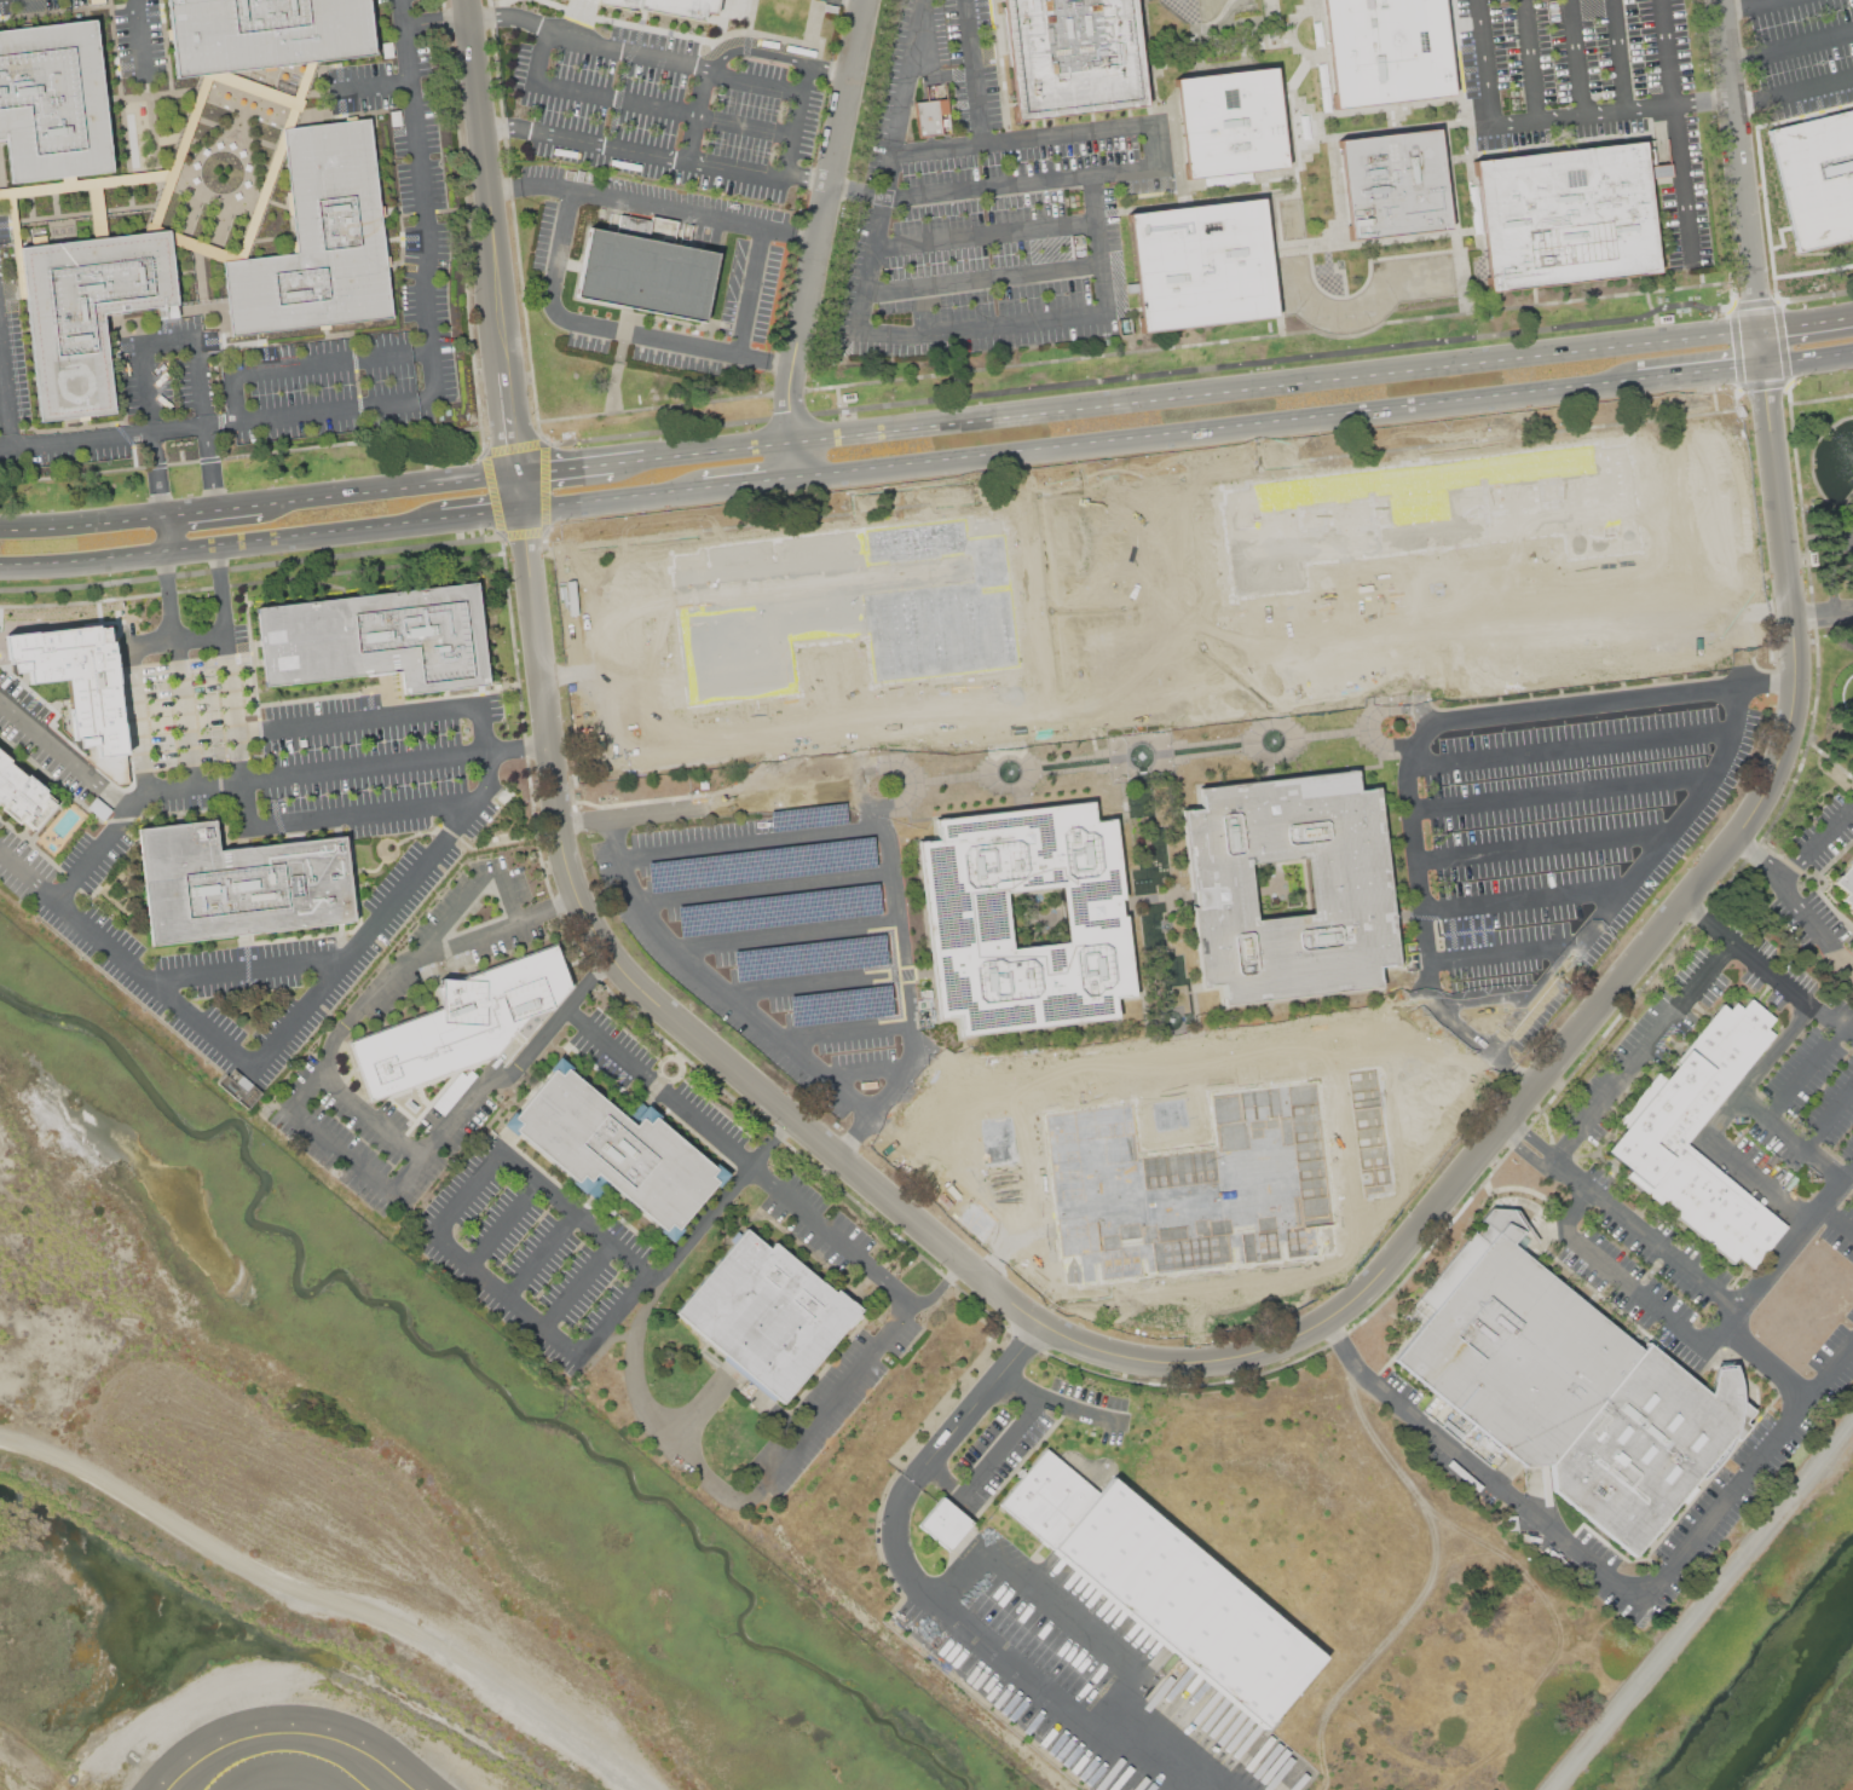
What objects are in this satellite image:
road: (1763, 1)
building: (666, 6)
road: (1743, 6)
road: (509, 17)
building: (267, 33)
road: (140, 41)
road: (1806, 44)
building: (1387, 48)
road: (752, 50)
road: (1618, 54)
road: (541, 56)
building: (1074, 56)
road: (1577, 57)
road: (1532, 59)
road: (1480, 63)
road: (672, 65)
road: (830, 71)
road: (974, 71)
road: (374, 87)
road: (1809, 87)
building: (53, 102)
building: (255, 106)
road: (665, 108)
road: (1610, 111)
road: (695, 116)
building: (931, 116)
road: (798, 120)
building: (1231, 123)
road: (497, 127)
road: (1675, 131)
road: (1024, 138)
road: (600, 143)
road: (1160, 144)
road: (890, 162)
road: (1743, 163)
road: (739, 173)
road: (810, 178)
building: (1816, 178)
road: (1023, 181)
building: (1395, 181)
road: (858, 190)
road: (423, 197)
road: (657, 201)
building: (1565, 214)
road: (824, 220)
road: (985, 236)
road: (496, 237)
building: (319, 239)
road: (1097, 242)
building: (1203, 264)
building: (647, 276)
road: (982, 278)
building: (87, 312)
road: (1807, 322)
road: (981, 327)
road: (1709, 335)
road: (650, 336)
road: (171, 340)
road: (1763, 348)
road: (330, 362)
road: (1809, 363)
road: (1184, 370)
road: (1738, 373)
road: (928, 376)
road: (204, 381)
road: (1675, 381)
road: (149, 388)
road: (1226, 389)
road: (5, 398)
road: (233, 399)
road: (218, 426)
road: (1103, 426)
road: (1220, 434)
road: (720, 450)
road: (628, 461)
road: (799, 461)
road: (1776, 461)
road: (217, 467)
road: (566, 469)
road: (160, 474)
road: (752, 486)
road: (391, 489)
road: (1109, 492)
road: (523, 495)
road: (614, 503)
road: (929, 504)
road: (214, 509)
road: (1127, 509)
road: (1162, 509)
road: (481, 518)
road: (82, 525)
road: (1061, 525)
road: (163, 536)
road: (220, 548)
road: (269, 564)
road: (1831, 568)
road: (612, 579)
road: (1600, 584)
road: (223, 589)
road: (1191, 593)
road: (168, 595)
road: (1154, 596)
road: (1682, 597)
road: (1093, 605)
road: (1047, 611)
road: (1822, 614)
road: (1759, 617)
road: (1705, 618)
road: (200, 631)
building: (377, 639)
road: (1444, 648)
road: (1733, 649)
road: (1184, 680)
road: (1767, 683)
building: (77, 686)
road: (1135, 686)
road: (132, 692)
road: (1080, 692)
road: (1586, 701)
road: (184, 709)
road: (394, 715)
road: (855, 717)
road: (519, 744)
road: (1572, 747)
road: (641, 751)
road: (64, 753)
road: (620, 755)
road: (873, 768)
road: (314, 769)
road: (630, 789)
road: (1562, 791)
building: (22, 795)
road: (889, 802)
road: (708, 807)
road: (269, 824)
road: (755, 843)
road: (1817, 844)
road: (1543, 845)
road: (100, 847)
road: (28, 876)
building: (238, 883)
building: (1846, 883)
road: (766, 885)
building: (1347, 888)
road: (462, 895)
road: (1524, 900)
road: (1795, 900)
road: (386, 914)
building: (966, 918)
road: (1708, 920)
road: (1425, 929)
road: (787, 932)
road: (1505, 953)
road: (252, 964)
road: (717, 984)
road: (819, 984)
road: (156, 986)
road: (1793, 989)
road: (911, 992)
road: (1489, 998)
road: (1537, 998)
building: (462, 1023)
road: (847, 1028)
road: (1643, 1051)
road: (1168, 1064)
road: (866, 1072)
road: (1803, 1073)
road: (308, 1085)
road: (1405, 1086)
building: (239, 1087)
road: (353, 1108)
road: (1719, 1119)
road: (1829, 1119)
road: (956, 1133)
building: (1655, 1134)
road: (1790, 1136)
road: (1534, 1137)
building: (616, 1150)
road: (1523, 1151)
road: (342, 1154)
road: (739, 1155)
road: (1852, 1165)
road: (408, 1177)
road: (462, 1193)
road: (721, 1202)
road: (993, 1208)
road: (570, 1212)
road: (1836, 1218)
road: (502, 1225)
road: (1644, 1235)
road: (1778, 1254)
road: (539, 1255)
road: (1616, 1274)
road: (577, 1286)
road: (942, 1287)
road: (502, 1294)
road: (610, 1313)
building: (768, 1313)
road: (1345, 1349)
road: (1141, 1361)
road: (1766, 1361)
building: (1568, 1386)
road: (1057, 1403)
road: (945, 1439)
road: (1001, 1445)
road: (1747, 1472)
road: (945, 1477)
road: (1503, 1488)
road: (733, 1497)
building: (945, 1523)
road: (959, 1575)
airport: (210, 1577)
building: (1166, 1584)
road: (1060, 1611)
airport: (1747, 1661)
road: (1032, 1682)
road: (1113, 1703)
airport taxiway: (269, 1750)
airport taxiway: (353, 1778)

